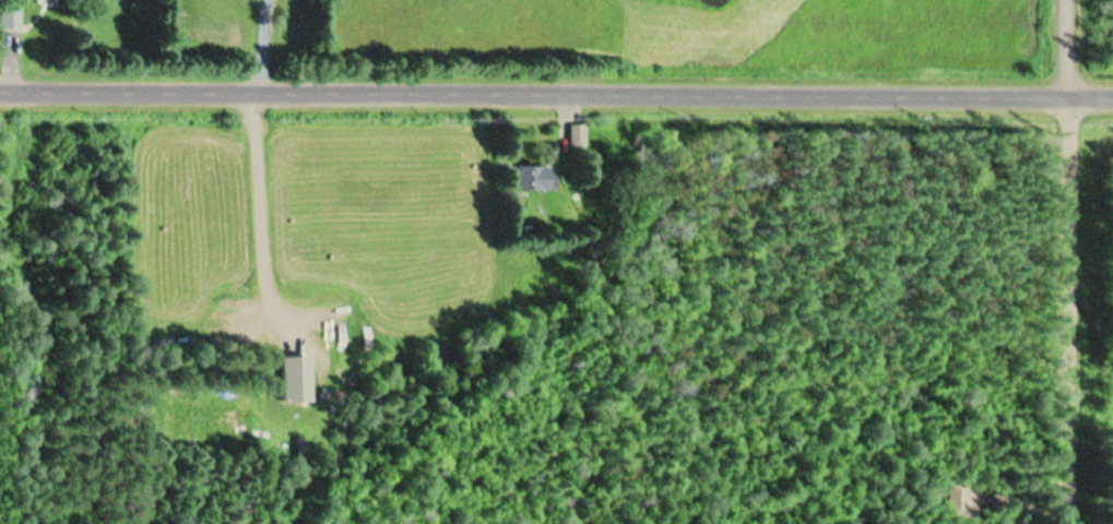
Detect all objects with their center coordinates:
building: (13, 19)
road: (556, 94)
building: (533, 178)
road: (1075, 261)
building: (295, 378)

